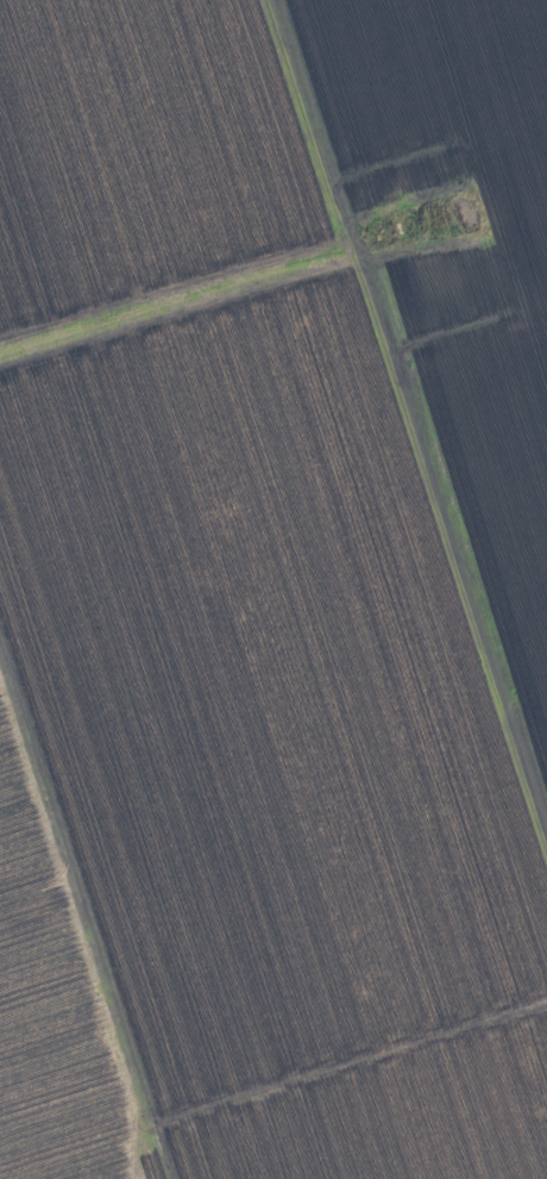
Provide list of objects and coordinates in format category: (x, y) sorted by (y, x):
road: (181, 299)

